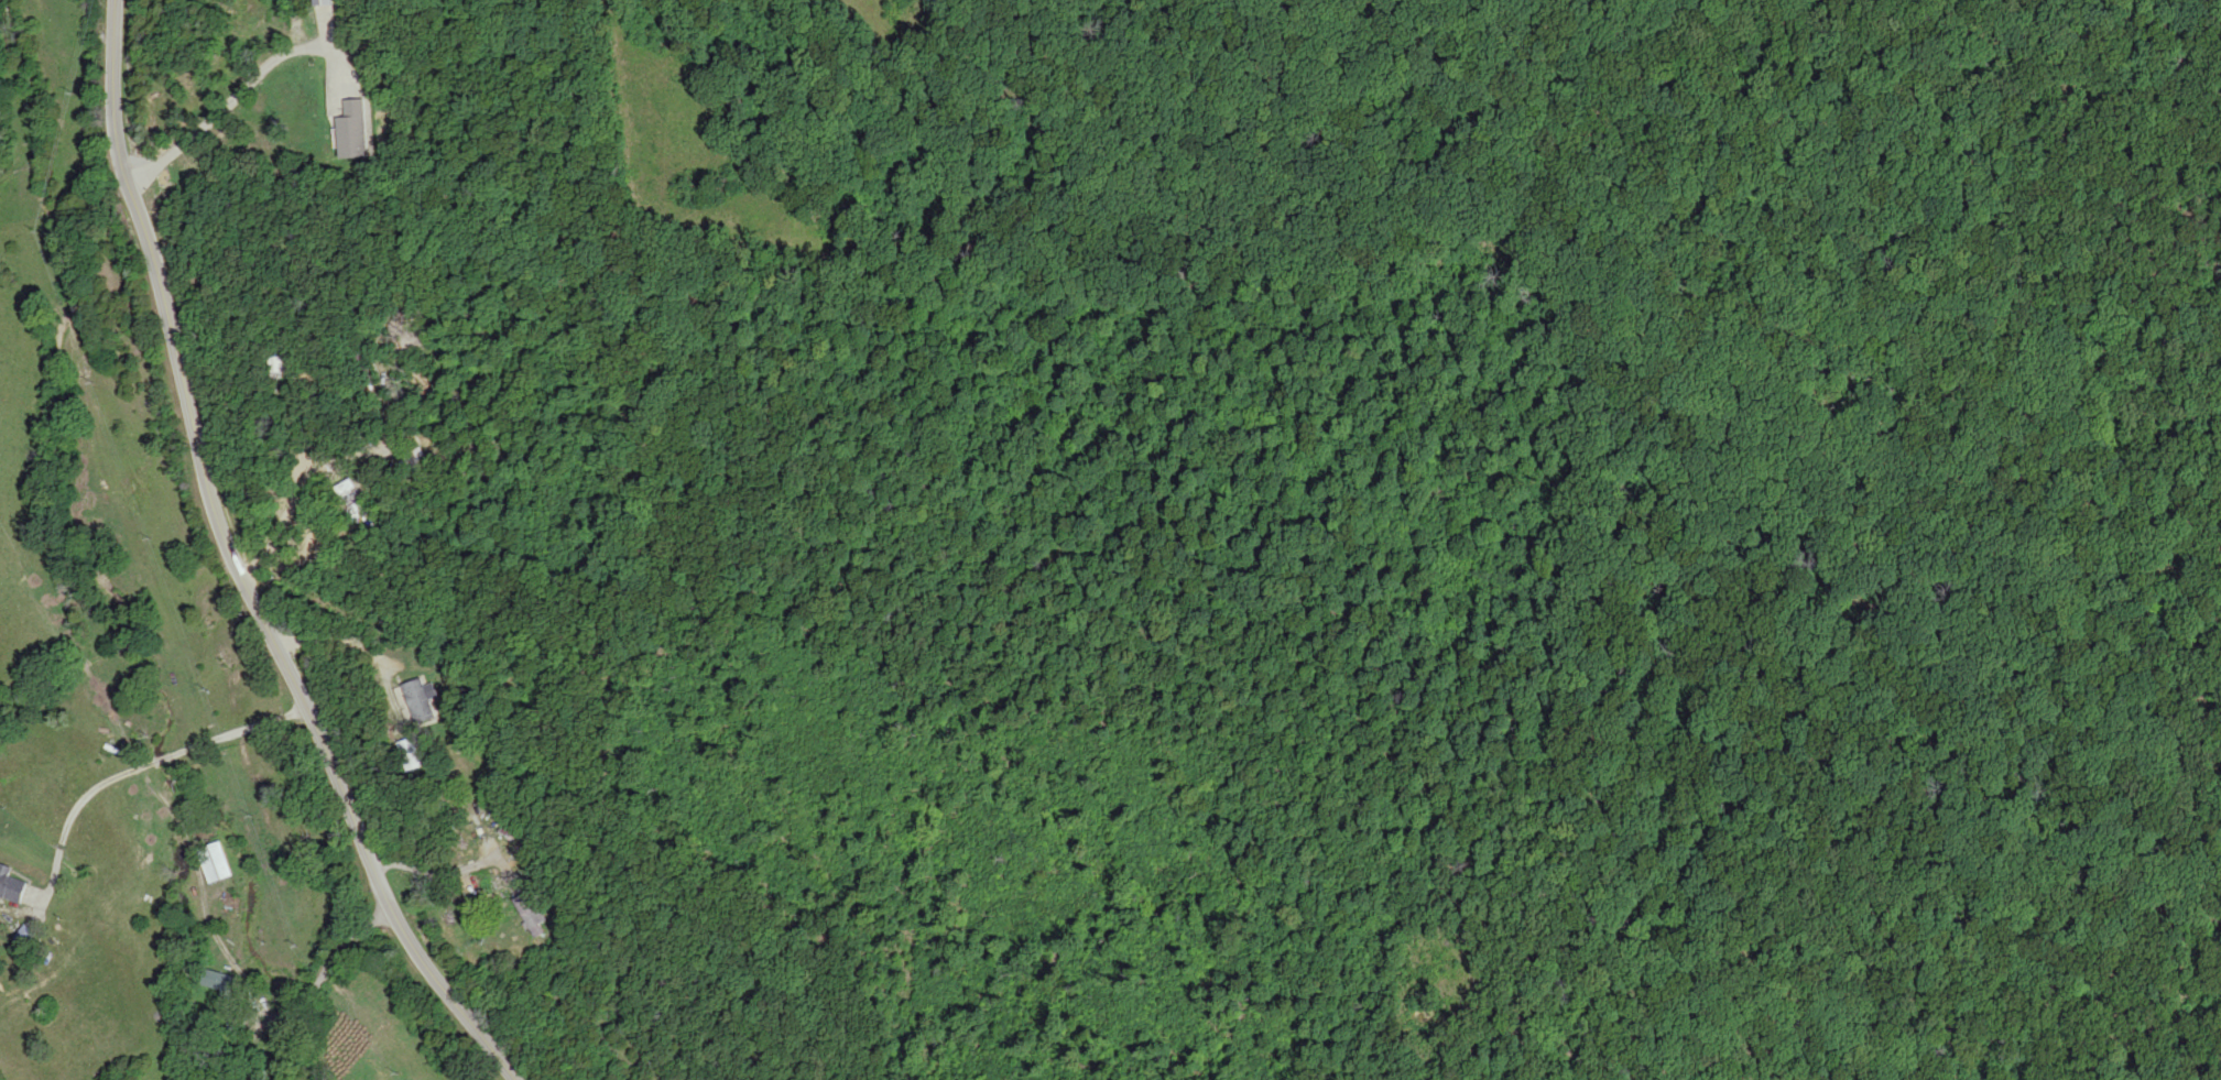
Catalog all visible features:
road: (2220, 15)
road: (2214, 48)
building: (353, 130)
building: (277, 366)
road: (377, 399)
road: (562, 523)
park: (1905, 539)
road: (237, 566)
building: (421, 700)
building: (411, 754)
road: (1027, 862)
building: (216, 863)
building: (11, 885)
road: (1984, 908)
road: (1108, 1005)

